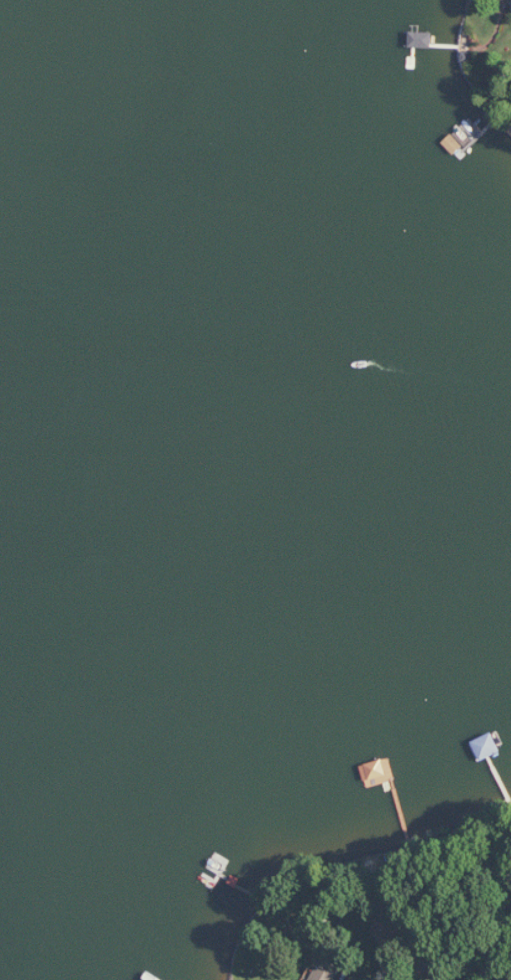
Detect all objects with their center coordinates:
road: (458, 928)

